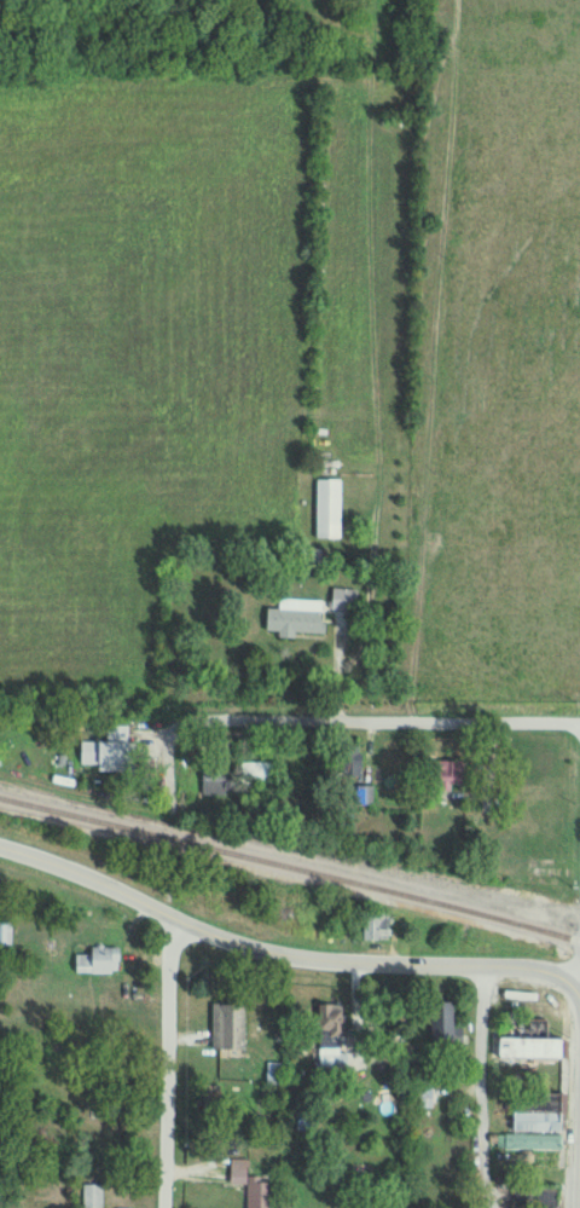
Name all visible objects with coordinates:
building: (329, 508)
building: (346, 599)
building: (297, 617)
road: (381, 724)
road: (169, 734)
building: (108, 755)
building: (530, 756)
building: (350, 763)
building: (261, 771)
building: (448, 774)
building: (216, 780)
building: (365, 793)
railway: (290, 868)
building: (378, 926)
building: (6, 936)
road: (284, 954)
road: (576, 977)
building: (446, 1024)
building: (227, 1027)
building: (333, 1038)
building: (533, 1040)
road: (167, 1062)
road: (474, 1087)
building: (210, 1102)
building: (536, 1112)
building: (532, 1141)
building: (260, 1195)
building: (93, 1196)
building: (535, 1196)

